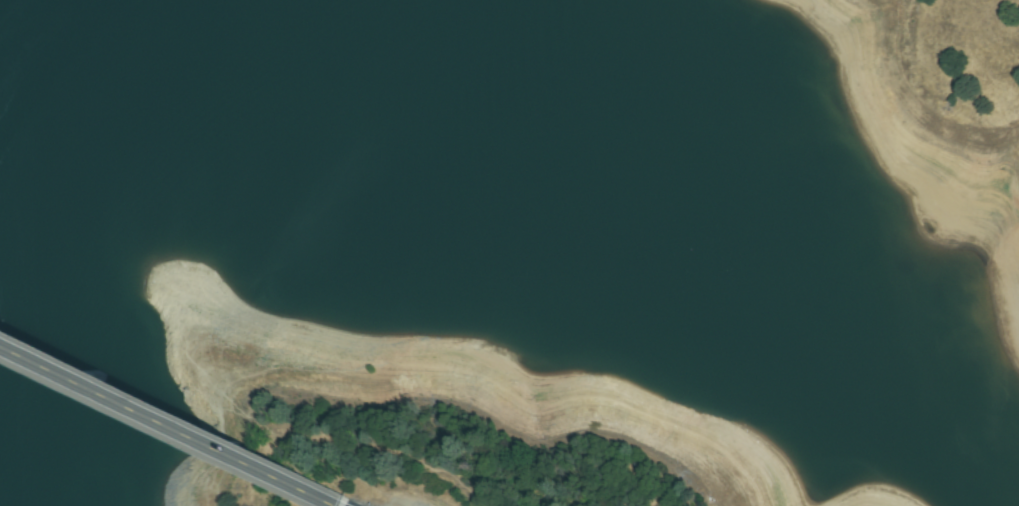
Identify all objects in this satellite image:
road: (161, 428)

